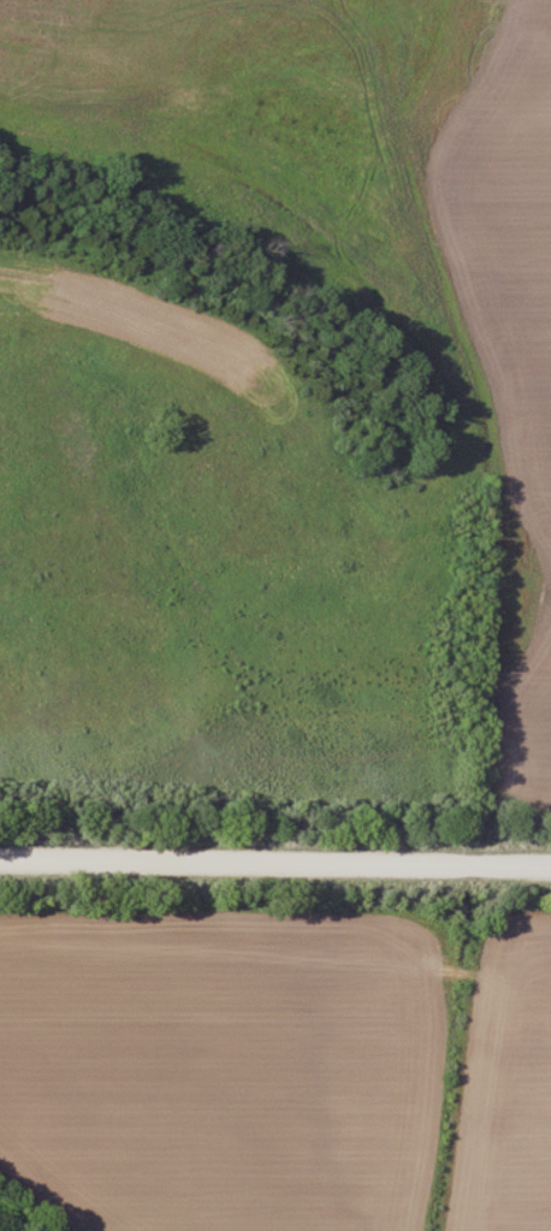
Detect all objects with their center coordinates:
road: (275, 864)

